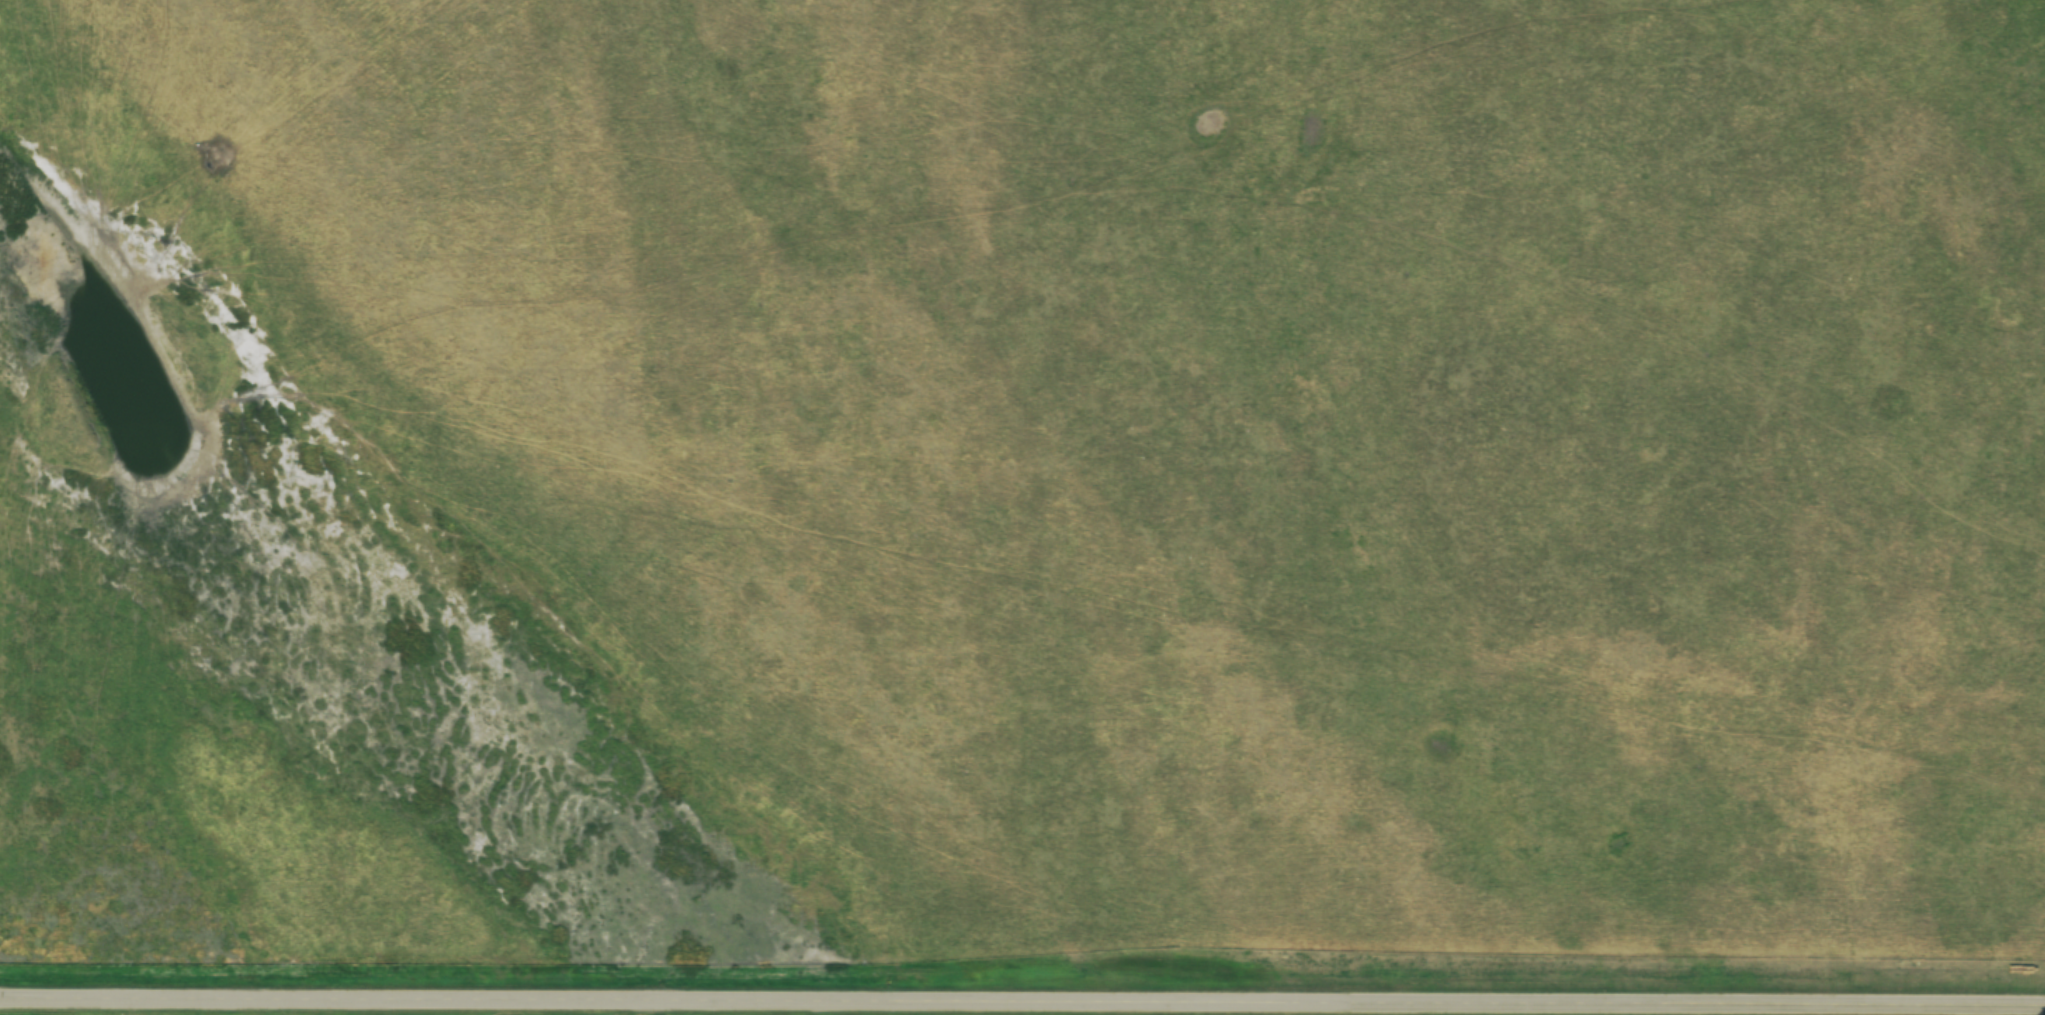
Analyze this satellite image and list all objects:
road: (1022, 1000)

